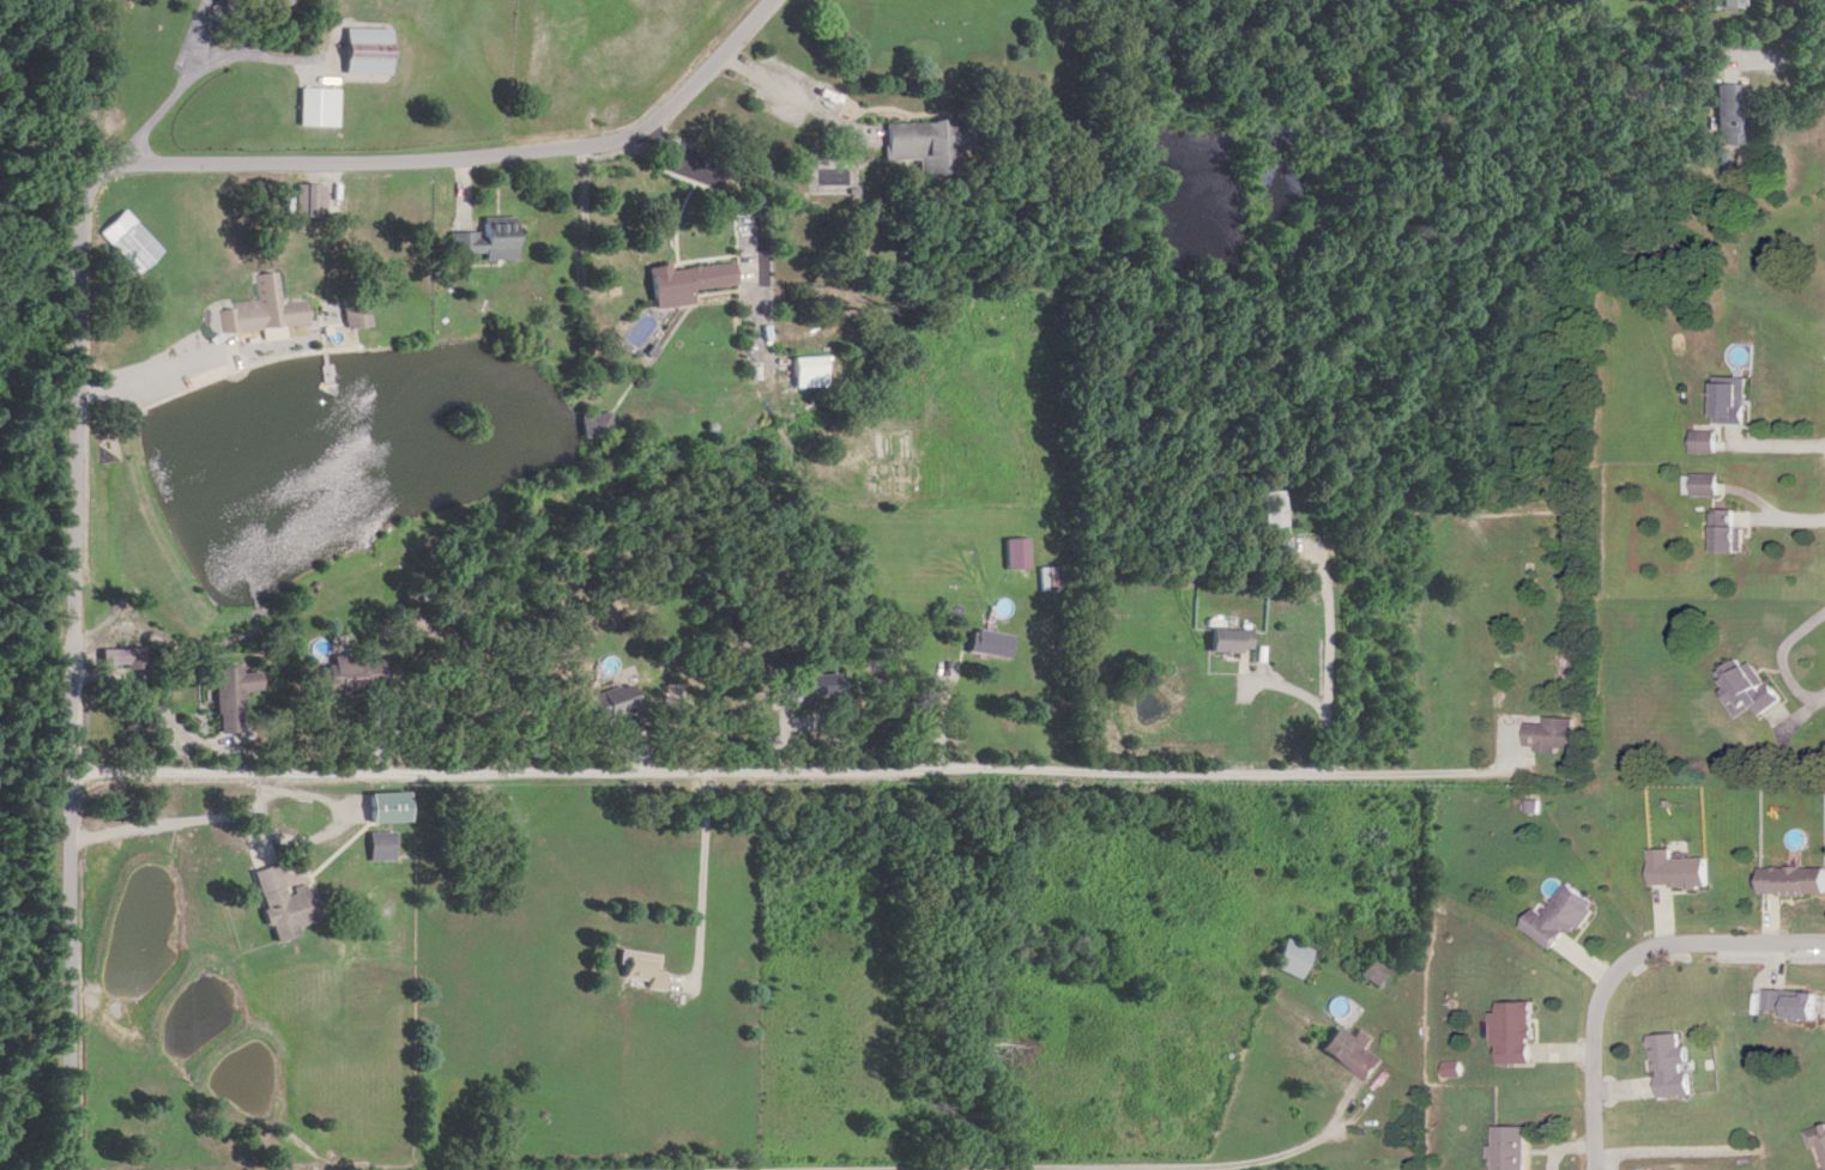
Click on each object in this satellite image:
building: (1722, 4)
road: (204, 34)
building: (368, 53)
road: (207, 66)
building: (1666, 66)
road: (799, 97)
building: (319, 108)
building: (1730, 115)
building: (932, 145)
road: (753, 223)
building: (489, 240)
road: (591, 281)
building: (688, 284)
road: (78, 302)
building: (264, 310)
building: (356, 314)
road: (177, 372)
building: (808, 372)
building: (1732, 402)
building: (597, 425)
building: (1705, 442)
building: (1274, 509)
building: (1730, 531)
building: (1051, 578)
building: (1231, 641)
building: (991, 644)
building: (123, 659)
road: (1329, 661)
building: (353, 673)
building: (1746, 686)
building: (806, 689)
building: (231, 697)
building: (608, 704)
building: (1553, 734)
road: (803, 776)
building: (389, 808)
building: (381, 848)
building: (1676, 871)
road: (1614, 880)
building: (1791, 881)
road: (702, 891)
building: (283, 905)
building: (1558, 919)
building: (1291, 959)
road: (1622, 968)
building: (641, 975)
building: (1796, 1005)
building: (1513, 1033)
building: (1353, 1053)
building: (1670, 1067)
building: (1817, 1140)
building: (1509, 1148)
road: (1300, 1152)

